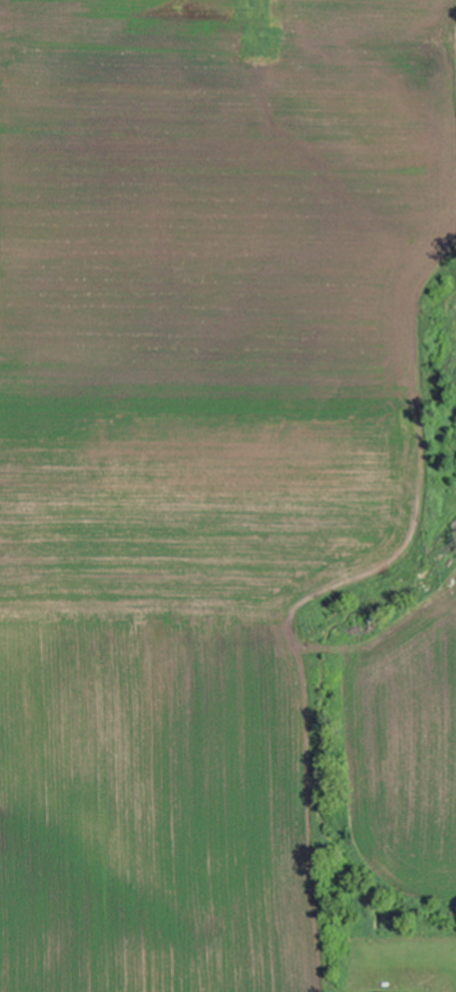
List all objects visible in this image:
building: (387, 986)

